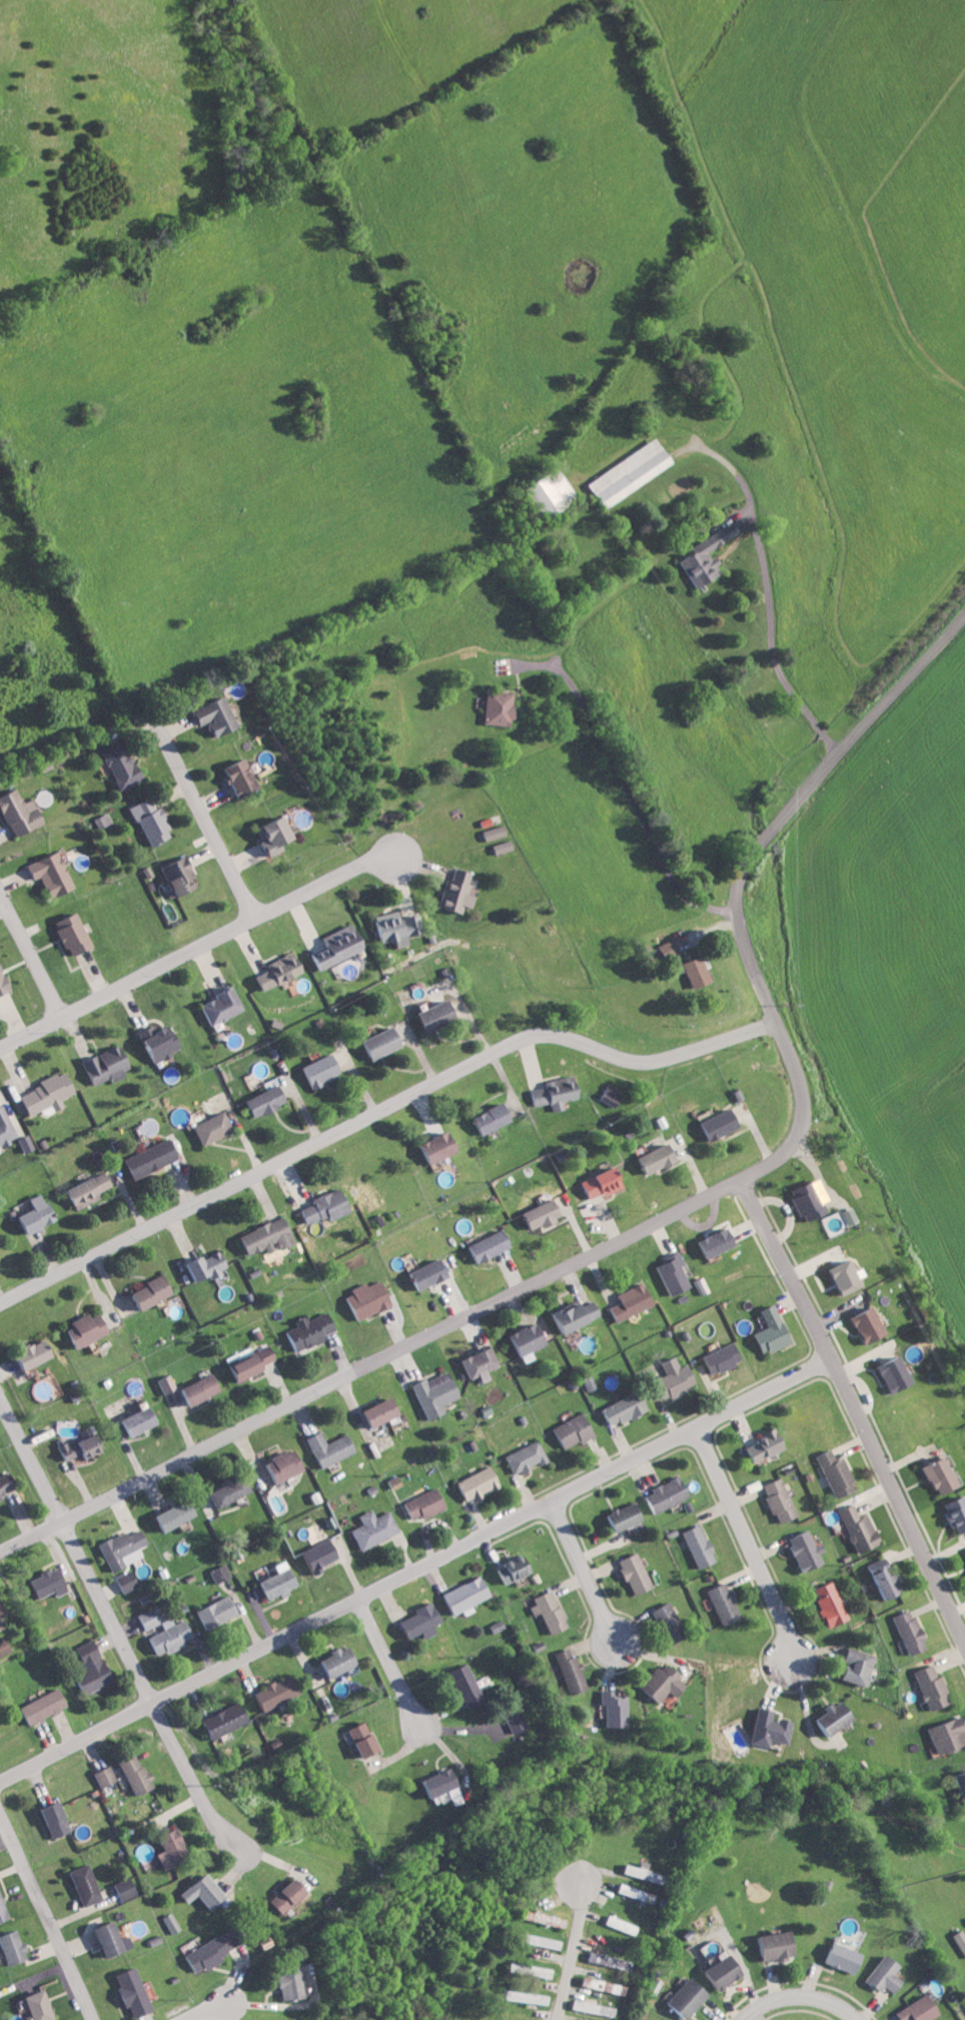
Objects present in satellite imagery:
building: (623, 474)
building: (544, 491)
building: (702, 557)
road: (774, 645)
building: (493, 708)
building: (208, 715)
building: (116, 765)
building: (232, 775)
road: (622, 780)
building: (14, 812)
road: (203, 814)
building: (147, 820)
building: (490, 832)
building: (267, 834)
building: (498, 847)
building: (44, 873)
building: (173, 874)
building: (451, 891)
building: (389, 926)
building: (65, 932)
building: (332, 946)
building: (664, 948)
road: (192, 954)
road: (31, 961)
building: (274, 970)
building: (691, 971)
building: (215, 1004)
building: (427, 1014)
building: (374, 1042)
building: (153, 1044)
building: (101, 1064)
building: (315, 1069)
building: (41, 1093)
building: (549, 1093)
building: (605, 1095)
building: (258, 1100)
road: (377, 1111)
building: (483, 1118)
building: (712, 1124)
building: (206, 1127)
building: (4, 1129)
building: (430, 1147)
building: (146, 1158)
building: (649, 1158)
building: (594, 1183)
building: (82, 1190)
building: (804, 1198)
building: (321, 1205)
road: (675, 1211)
building: (534, 1214)
building: (30, 1215)
building: (845, 1215)
building: (1, 1236)
building: (261, 1237)
building: (708, 1242)
building: (482, 1246)
building: (201, 1265)
building: (422, 1273)
building: (668, 1274)
building: (837, 1277)
building: (144, 1292)
building: (363, 1300)
building: (626, 1302)
building: (569, 1315)
building: (859, 1325)
building: (79, 1330)
building: (306, 1330)
building: (765, 1331)
building: (521, 1341)
building: (39, 1354)
building: (716, 1358)
building: (245, 1364)
building: (471, 1364)
building: (886, 1373)
building: (668, 1379)
building: (163, 1383)
building: (194, 1389)
building: (430, 1393)
building: (618, 1408)
road: (852, 1411)
building: (373, 1412)
building: (132, 1421)
building: (568, 1431)
building: (758, 1446)
building: (86, 1447)
building: (324, 1448)
building: (522, 1457)
road: (30, 1461)
building: (278, 1466)
building: (830, 1473)
building: (931, 1475)
building: (474, 1484)
building: (8, 1485)
building: (225, 1490)
building: (661, 1494)
building: (774, 1500)
building: (419, 1504)
building: (169, 1515)
building: (618, 1516)
building: (370, 1528)
building: (853, 1528)
road: (744, 1538)
building: (695, 1546)
building: (125, 1548)
building: (800, 1551)
building: (963, 1555)
building: (313, 1556)
building: (510, 1567)
road: (413, 1569)
road: (581, 1571)
building: (630, 1572)
building: (217, 1573)
building: (878, 1578)
building: (129, 1581)
building: (52, 1582)
building: (272, 1582)
building: (461, 1596)
building: (719, 1603)
building: (826, 1605)
building: (3, 1607)
building: (545, 1611)
building: (216, 1612)
building: (149, 1619)
building: (416, 1621)
building: (663, 1623)
building: (495, 1626)
building: (904, 1632)
building: (172, 1636)
building: (5, 1645)
road: (388, 1658)
building: (332, 1661)
building: (95, 1665)
building: (852, 1666)
building: (567, 1671)
building: (658, 1683)
building: (461, 1684)
building: (926, 1686)
building: (271, 1693)
road: (149, 1695)
building: (46, 1705)
building: (610, 1709)
building: (512, 1718)
building: (829, 1718)
building: (229, 1719)
building: (764, 1728)
building: (944, 1735)
building: (358, 1739)
building: (137, 1774)
building: (105, 1776)
building: (437, 1785)
building: (959, 1788)
building: (57, 1819)
building: (175, 1850)
road: (954, 1869)
building: (636, 1871)
building: (87, 1885)
building: (126, 1888)
building: (208, 1892)
building: (290, 1895)
building: (4, 1908)
road: (45, 1920)
building: (171, 1923)
building: (115, 1940)
building: (536, 1941)
building: (958, 1942)
building: (767, 1946)
building: (16, 1947)
building: (213, 1950)
road: (571, 1954)
building: (835, 1958)
building: (597, 1959)
building: (532, 1971)
building: (715, 1973)
building: (878, 1975)
building: (294, 1985)
road: (799, 1992)
building: (135, 1993)
building: (521, 1997)
building: (681, 1999)
building: (41, 2006)
building: (588, 2008)
road: (214, 2009)
building: (912, 2010)

